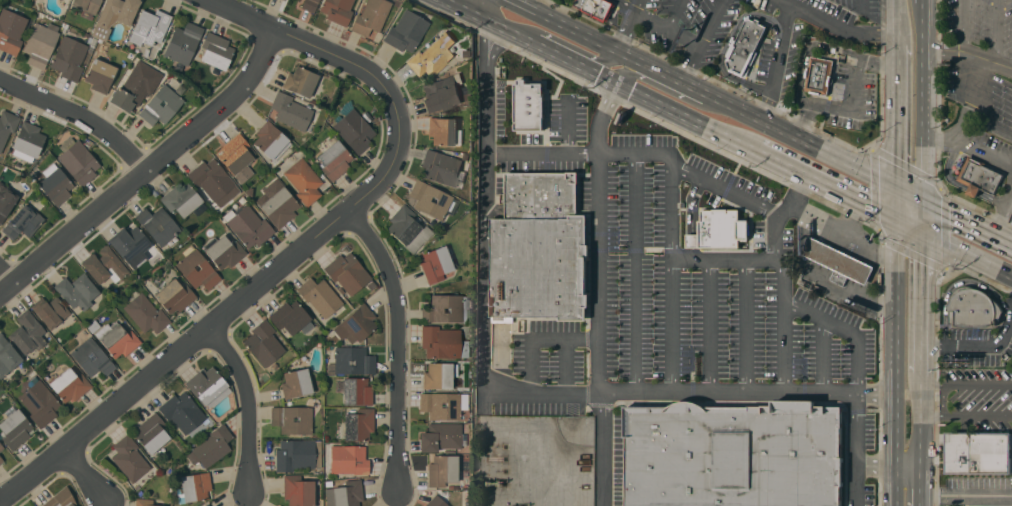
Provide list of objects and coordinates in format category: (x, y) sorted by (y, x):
road: (785, 1)
road: (921, 2)
building: (86, 5)
building: (309, 5)
road: (628, 5)
road: (637, 5)
road: (788, 5)
road: (964, 6)
road: (460, 8)
road: (483, 8)
building: (598, 8)
building: (337, 10)
building: (114, 15)
building: (371, 16)
road: (899, 21)
road: (566, 25)
building: (149, 27)
building: (11, 30)
road: (626, 30)
building: (405, 31)
road: (998, 31)
road: (964, 32)
road: (699, 40)
building: (39, 44)
building: (182, 44)
road: (567, 46)
building: (744, 48)
building: (216, 50)
road: (547, 50)
road: (967, 53)
building: (432, 56)
building: (69, 57)
road: (338, 60)
building: (100, 74)
building: (818, 75)
building: (300, 81)
building: (132, 89)
road: (666, 90)
building: (443, 93)
road: (851, 100)
road: (921, 101)
building: (161, 105)
building: (528, 106)
road: (966, 106)
building: (290, 111)
road: (898, 115)
road: (84, 116)
road: (685, 117)
road: (757, 119)
road: (960, 122)
building: (7, 125)
building: (354, 130)
building: (443, 130)
building: (271, 140)
building: (28, 141)
road: (968, 145)
road: (544, 151)
building: (237, 157)
building: (334, 159)
building: (77, 160)
building: (441, 167)
building: (979, 176)
road: (151, 179)
building: (303, 180)
building: (213, 181)
road: (714, 182)
building: (55, 185)
road: (824, 185)
traffic signals: (897, 187)
road: (602, 192)
road: (909, 193)
building: (540, 194)
building: (183, 199)
building: (430, 199)
building: (6, 200)
traffic signals: (922, 200)
road: (896, 203)
building: (279, 207)
road: (668, 209)
road: (1001, 211)
road: (921, 216)
road: (831, 217)
traffic signals: (896, 220)
road: (967, 221)
building: (22, 222)
building: (158, 224)
building: (248, 225)
road: (908, 226)
building: (408, 228)
building: (720, 230)
traffic signals: (921, 232)
building: (132, 245)
road: (864, 249)
building: (225, 251)
road: (966, 254)
road: (723, 258)
building: (837, 261)
building: (103, 264)
building: (436, 264)
road: (482, 264)
building: (197, 268)
building: (540, 269)
building: (347, 272)
road: (633, 274)
road: (921, 274)
road: (10, 278)
building: (77, 290)
building: (175, 295)
building: (319, 295)
road: (780, 301)
building: (445, 308)
building: (973, 308)
building: (50, 311)
building: (146, 313)
building: (289, 317)
building: (356, 324)
road: (669, 325)
road: (707, 325)
road: (743, 325)
building: (27, 332)
road: (538, 338)
building: (117, 339)
road: (199, 340)
road: (403, 341)
road: (897, 341)
building: (442, 342)
building: (264, 343)
road: (920, 346)
building: (7, 355)
building: (91, 357)
building: (353, 360)
building: (440, 375)
building: (296, 383)
building: (69, 384)
road: (966, 384)
building: (207, 386)
building: (356, 391)
road: (792, 393)
road: (645, 394)
building: (39, 403)
road: (253, 404)
building: (443, 405)
road: (602, 405)
building: (183, 412)
road: (966, 416)
road: (919, 418)
building: (292, 419)
building: (359, 424)
building: (15, 429)
building: (151, 432)
building: (442, 437)
building: (1, 446)
building: (211, 446)
road: (852, 449)
building: (978, 453)
building: (298, 454)
building: (734, 454)
building: (129, 458)
building: (1, 459)
building: (348, 459)
road: (874, 462)
road: (907, 462)
building: (442, 469)
road: (88, 479)
petroleum well: (495, 483)
road: (896, 484)
road: (919, 484)
building: (195, 486)
building: (297, 490)
building: (348, 493)
road: (965, 494)
building: (60, 498)
building: (143, 502)
building: (436, 502)
building: (206, 505)
building: (278, 505)

